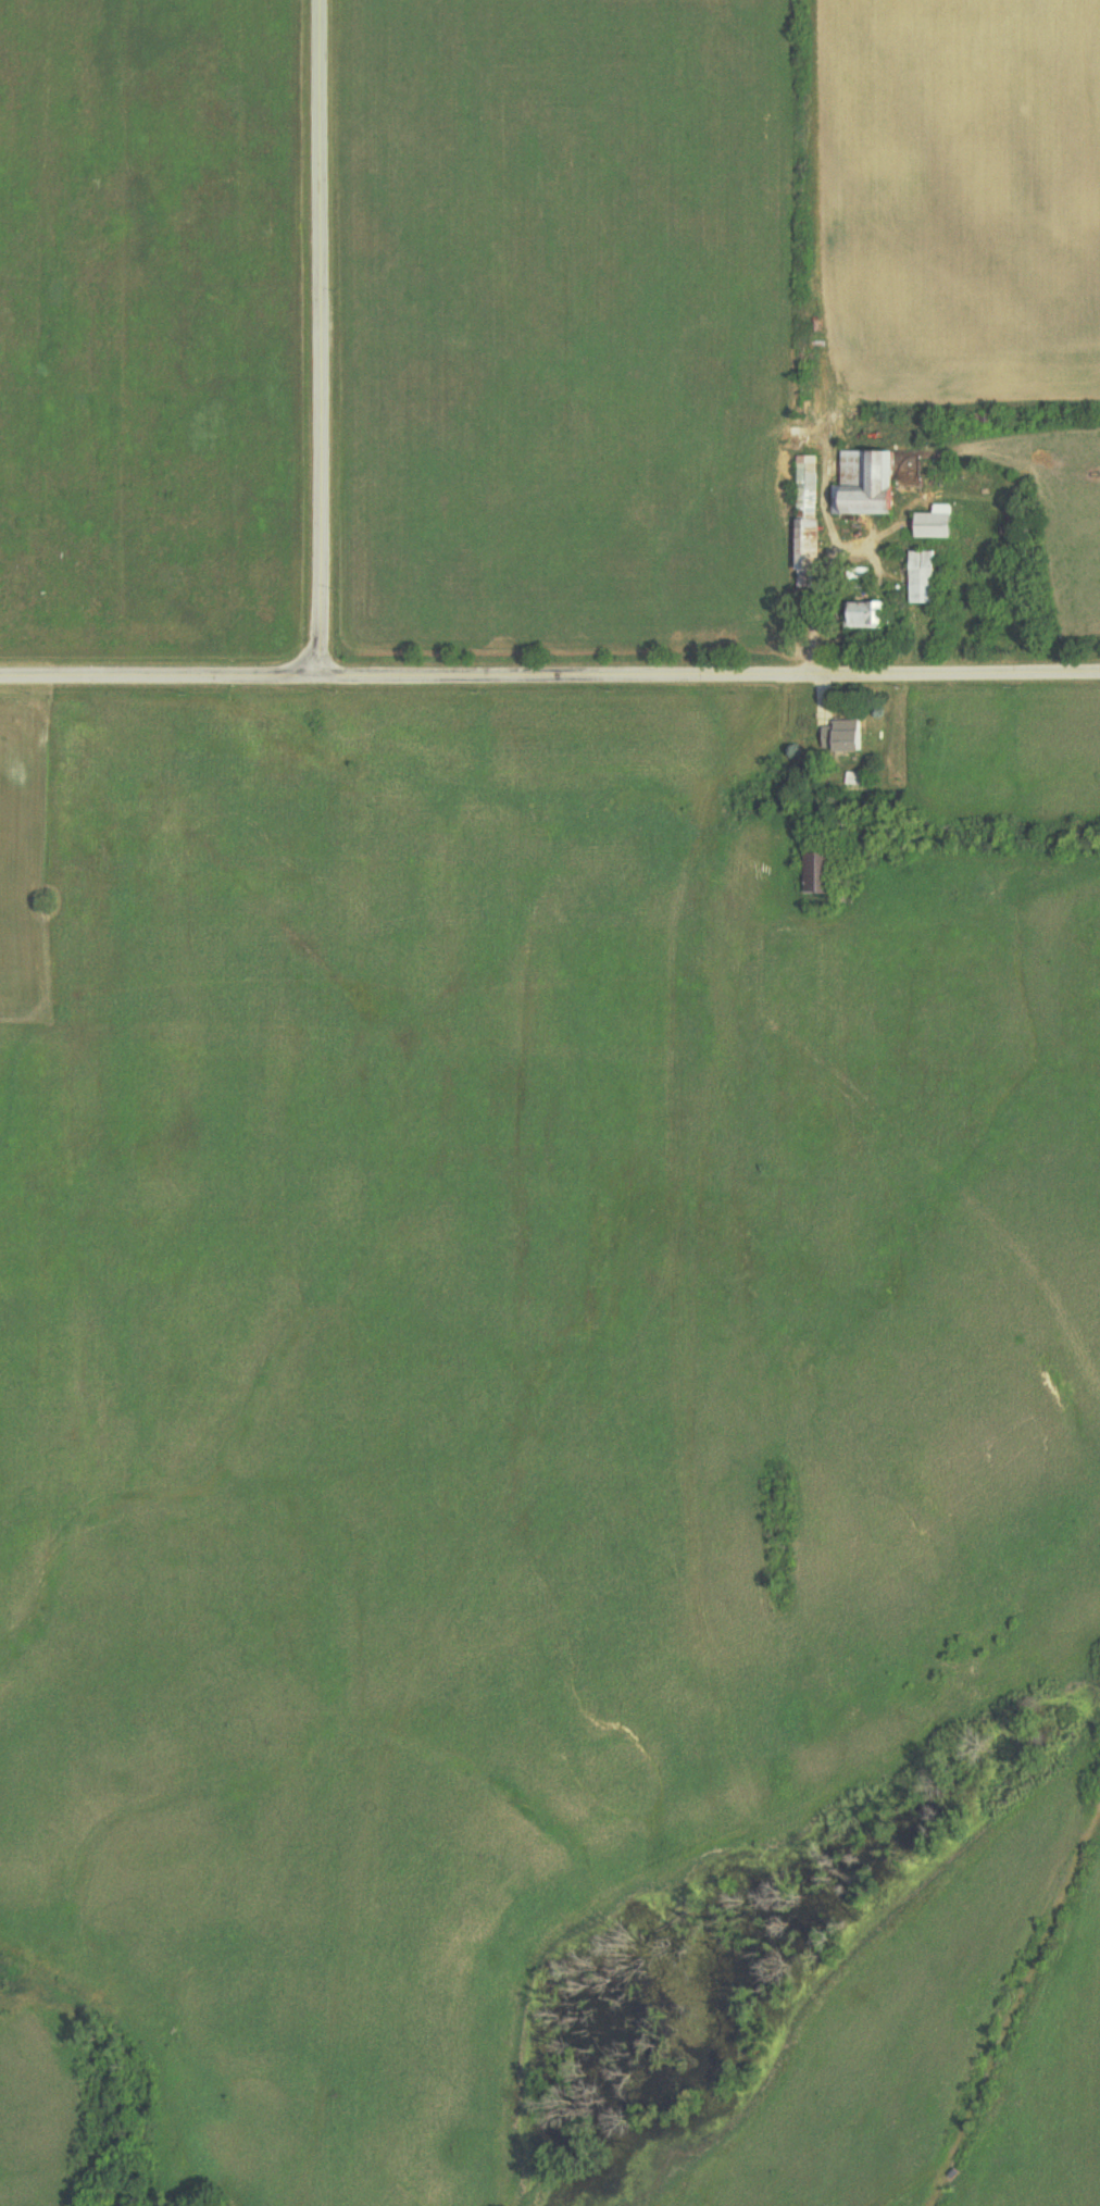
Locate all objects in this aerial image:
crop: (962, 191)
crop: (559, 321)
road: (312, 338)
road: (157, 678)
road: (707, 678)
crop: (1009, 759)
crop: (1053, 2094)

